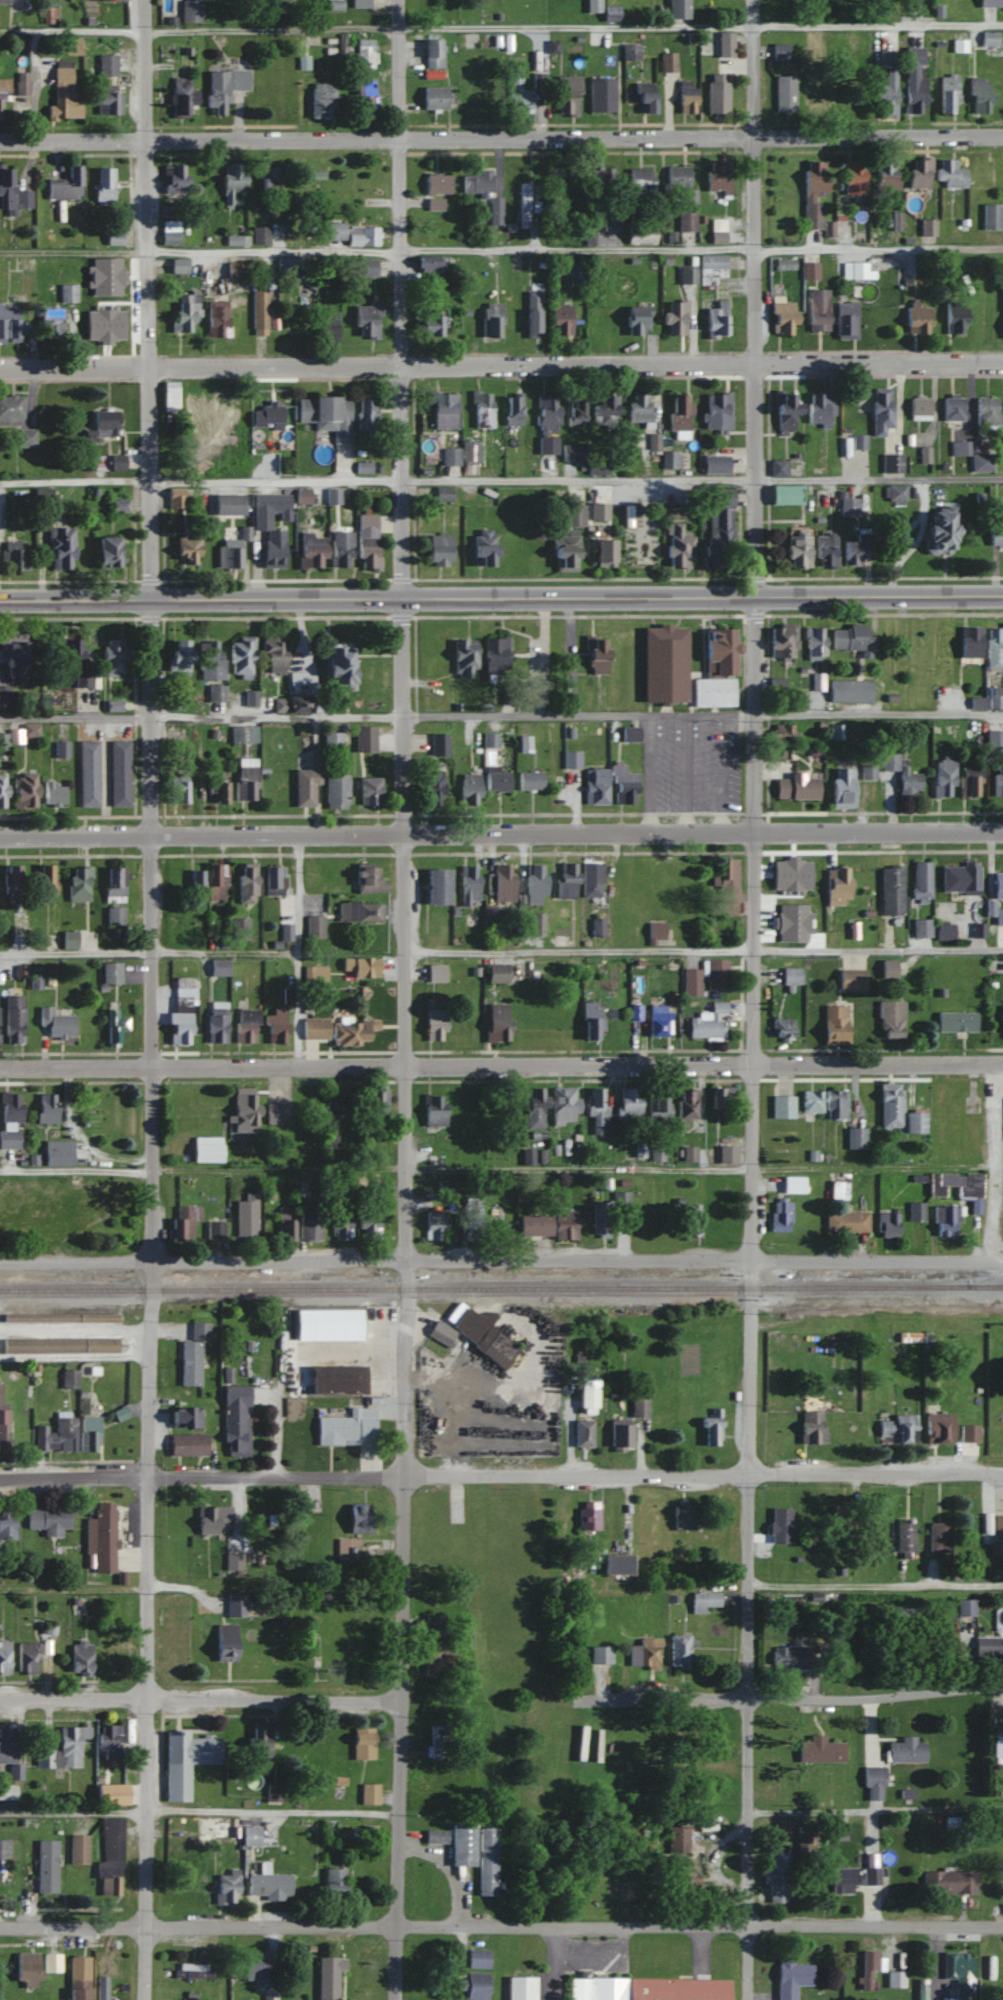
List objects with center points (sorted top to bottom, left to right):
building: (5, 1)
building: (361, 3)
building: (989, 3)
building: (593, 6)
building: (678, 9)
building: (190, 11)
building: (610, 14)
building: (49, 16)
road: (501, 25)
building: (989, 38)
building: (725, 44)
building: (71, 45)
building: (780, 51)
building: (632, 52)
building: (433, 54)
building: (364, 55)
building: (668, 62)
building: (107, 65)
building: (815, 82)
building: (914, 82)
building: (21, 84)
building: (887, 87)
building: (223, 89)
building: (63, 93)
building: (717, 94)
building: (784, 94)
building: (948, 94)
building: (567, 95)
building: (602, 96)
building: (979, 96)
building: (181, 97)
building: (365, 98)
building: (434, 98)
building: (686, 98)
building: (2, 99)
building: (646, 99)
building: (322, 100)
building: (521, 100)
building: (107, 102)
road: (501, 138)
building: (919, 173)
building: (886, 175)
building: (951, 175)
building: (718, 177)
building: (854, 177)
building: (173, 179)
building: (271, 179)
building: (567, 180)
building: (602, 180)
building: (477, 182)
building: (231, 183)
building: (437, 184)
building: (680, 184)
building: (65, 185)
building: (103, 185)
building: (639, 186)
building: (813, 193)
building: (12, 194)
building: (525, 203)
building: (434, 204)
building: (495, 211)
building: (991, 217)
building: (611, 223)
building: (928, 227)
building: (335, 232)
building: (170, 233)
building: (640, 233)
building: (260, 235)
building: (362, 236)
building: (237, 240)
road: (501, 248)
building: (431, 264)
building: (178, 266)
building: (359, 267)
building: (712, 268)
building: (810, 270)
building: (854, 270)
building: (237, 271)
building: (68, 293)
road: (756, 298)
road: (401, 299)
road: (148, 300)
building: (259, 310)
building: (818, 310)
building: (185, 313)
building: (532, 314)
building: (675, 317)
building: (955, 317)
building: (783, 318)
building: (217, 319)
building: (561, 319)
building: (918, 319)
building: (490, 320)
building: (716, 320)
building: (846, 320)
building: (366, 321)
building: (51, 323)
building: (9, 324)
building: (637, 324)
building: (607, 325)
building: (326, 326)
building: (431, 326)
building: (117, 332)
road: (501, 363)
building: (168, 397)
building: (954, 407)
building: (221, 408)
building: (920, 408)
building: (193, 409)
building: (640, 409)
building: (821, 409)
building: (11, 410)
building: (481, 410)
building: (785, 410)
building: (442, 411)
building: (512, 411)
building: (717, 411)
building: (881, 411)
building: (575, 412)
building: (604, 412)
building: (364, 413)
building: (987, 413)
building: (326, 416)
building: (267, 417)
building: (678, 417)
building: (105, 423)
building: (546, 426)
building: (26, 438)
building: (470, 451)
building: (571, 453)
building: (450, 456)
building: (671, 460)
building: (118, 462)
building: (982, 462)
building: (892, 464)
building: (716, 465)
building: (778, 468)
road: (576, 478)
road: (75, 480)
building: (785, 495)
building: (895, 495)
building: (229, 504)
building: (118, 506)
building: (849, 507)
building: (599, 512)
building: (574, 515)
building: (718, 528)
building: (940, 530)
building: (996, 536)
road: (917, 540)
building: (367, 542)
building: (677, 547)
building: (60, 548)
building: (482, 548)
building: (273, 549)
building: (340, 550)
building: (640, 550)
building: (824, 550)
building: (855, 550)
building: (186, 551)
building: (310, 551)
building: (439, 551)
building: (565, 551)
building: (797, 551)
building: (106, 553)
building: (229, 553)
building: (604, 553)
building: (17, 556)
road: (501, 598)
building: (850, 637)
building: (784, 639)
building: (971, 641)
building: (814, 642)
building: (995, 647)
building: (495, 654)
building: (596, 654)
building: (12, 655)
building: (178, 655)
building: (241, 655)
building: (273, 655)
building: (113, 656)
building: (464, 656)
building: (211, 659)
building: (74, 661)
building: (664, 663)
building: (338, 664)
building: (716, 669)
building: (818, 680)
building: (850, 689)
building: (995, 696)
building: (292, 704)
road: (501, 712)
building: (244, 733)
building: (629, 733)
building: (784, 733)
building: (995, 737)
building: (365, 738)
building: (439, 744)
building: (61, 748)
building: (571, 759)
building: (869, 771)
building: (88, 773)
building: (119, 773)
building: (901, 773)
building: (943, 775)
building: (245, 778)
building: (307, 779)
building: (497, 779)
building: (530, 779)
building: (997, 780)
building: (968, 782)
building: (431, 784)
building: (624, 784)
building: (595, 785)
building: (796, 787)
building: (842, 787)
building: (176, 788)
building: (2, 789)
building: (24, 789)
building: (469, 789)
building: (335, 790)
building: (369, 790)
building: (220, 791)
building: (52, 794)
road: (501, 833)
building: (12, 879)
building: (45, 879)
building: (591, 879)
building: (960, 879)
building: (274, 880)
building: (568, 880)
building: (368, 881)
building: (216, 882)
building: (246, 882)
building: (503, 882)
building: (921, 882)
building: (78, 883)
building: (534, 883)
building: (114, 884)
building: (798, 884)
building: (468, 885)
building: (837, 885)
building: (998, 885)
building: (196, 886)
building: (436, 886)
building: (727, 886)
building: (891, 890)
building: (176, 891)
building: (360, 911)
building: (114, 915)
building: (999, 915)
building: (315, 926)
building: (922, 927)
building: (945, 931)
road: (296, 950)
road: (148, 951)
road: (578, 951)
road: (877, 951)
building: (219, 967)
building: (360, 967)
building: (111, 972)
building: (436, 973)
building: (716, 974)
building: (791, 975)
building: (851, 978)
building: (181, 1010)
building: (13, 1018)
building: (890, 1018)
building: (1002, 1019)
building: (590, 1020)
building: (216, 1021)
building: (498, 1021)
building: (709, 1021)
building: (956, 1021)
building: (529, 1022)
building: (67, 1023)
building: (659, 1023)
building: (246, 1024)
building: (435, 1024)
building: (834, 1024)
building: (114, 1026)
building: (275, 1026)
building: (315, 1028)
building: (783, 1028)
building: (351, 1032)
road: (501, 1065)
building: (721, 1095)
building: (811, 1100)
building: (376, 1102)
building: (563, 1103)
building: (628, 1103)
building: (687, 1103)
building: (835, 1103)
building: (659, 1105)
building: (782, 1105)
building: (891, 1105)
building: (10, 1106)
building: (46, 1107)
building: (533, 1107)
building: (244, 1108)
building: (434, 1110)
building: (278, 1113)
building: (598, 1113)
building: (331, 1121)
building: (913, 1121)
building: (9, 1138)
building: (856, 1138)
building: (206, 1149)
building: (57, 1152)
building: (726, 1153)
building: (657, 1154)
road: (994, 1162)
road: (376, 1168)
road: (873, 1170)
building: (360, 1181)
building: (793, 1183)
building: (838, 1189)
building: (916, 1211)
building: (607, 1212)
building: (781, 1215)
building: (472, 1218)
building: (691, 1219)
building: (368, 1220)
building: (945, 1220)
building: (846, 1222)
building: (184, 1223)
building: (241, 1224)
building: (285, 1224)
building: (888, 1224)
building: (434, 1225)
building: (535, 1225)
building: (565, 1225)
building: (308, 1228)
building: (340, 1228)
building: (215, 1229)
building: (72, 1232)
building: (500, 1232)
road: (501, 1259)
railway: (984, 1284)
railway: (501, 1287)
road: (751, 1298)
road: (407, 1299)
road: (152, 1300)
road: (75, 1327)
building: (475, 1333)
building: (909, 1337)
building: (59, 1344)
road: (76, 1353)
building: (192, 1354)
building: (69, 1378)
building: (336, 1379)
building: (587, 1399)
building: (639, 1407)
building: (186, 1418)
building: (236, 1424)
building: (811, 1426)
building: (711, 1427)
building: (345, 1428)
building: (939, 1428)
building: (3, 1429)
building: (897, 1429)
building: (89, 1433)
building: (583, 1433)
building: (56, 1435)
building: (620, 1435)
building: (187, 1444)
road: (501, 1476)
building: (588, 1515)
building: (683, 1517)
building: (841, 1517)
building: (359, 1518)
building: (213, 1519)
building: (49, 1520)
building: (780, 1525)
building: (7, 1526)
building: (101, 1537)
building: (905, 1537)
building: (937, 1537)
building: (346, 1549)
building: (233, 1561)
building: (617, 1564)
road: (74, 1587)
road: (876, 1587)
building: (704, 1601)
building: (235, 1605)
building: (966, 1611)
building: (904, 1616)
building: (434, 1625)
building: (225, 1642)
building: (988, 1648)
building: (678, 1651)
building: (646, 1654)
building: (109, 1655)
building: (600, 1655)
building: (4, 1657)
building: (27, 1657)
building: (437, 1657)
building: (789, 1657)
building: (80, 1658)
road: (202, 1697)
road: (790, 1698)
building: (108, 1741)
building: (259, 1741)
building: (438, 1741)
building: (71, 1745)
building: (998, 1747)
building: (362, 1748)
building: (820, 1750)
building: (906, 1750)
building: (9, 1751)
building: (44, 1758)
building: (185, 1760)
building: (874, 1783)
building: (7, 1791)
building: (369, 1793)
road: (874, 1807)
road: (73, 1810)
road: (274, 1812)
building: (213, 1826)
building: (328, 1829)
building: (250, 1835)
building: (435, 1836)
building: (112, 1840)
building: (678, 1840)
building: (462, 1845)
building: (3, 1847)
building: (78, 1849)
building: (487, 1861)
building: (46, 1866)
building: (871, 1868)
building: (683, 1876)
building: (775, 1876)
building: (844, 1880)
building: (334, 1881)
building: (948, 1882)
building: (267, 1885)
building: (110, 1886)
building: (226, 1888)
road: (501, 1925)
building: (477, 1958)
building: (51, 1962)
building: (253, 1965)
building: (26, 1967)
building: (868, 1968)
building: (192, 1971)
building: (959, 1973)
building: (328, 1977)
building: (79, 1978)
building: (791, 1978)
building: (895, 1979)
building: (474, 1985)
building: (100, 1988)
building: (521, 1988)
building: (646, 1989)
building: (269, 1995)

